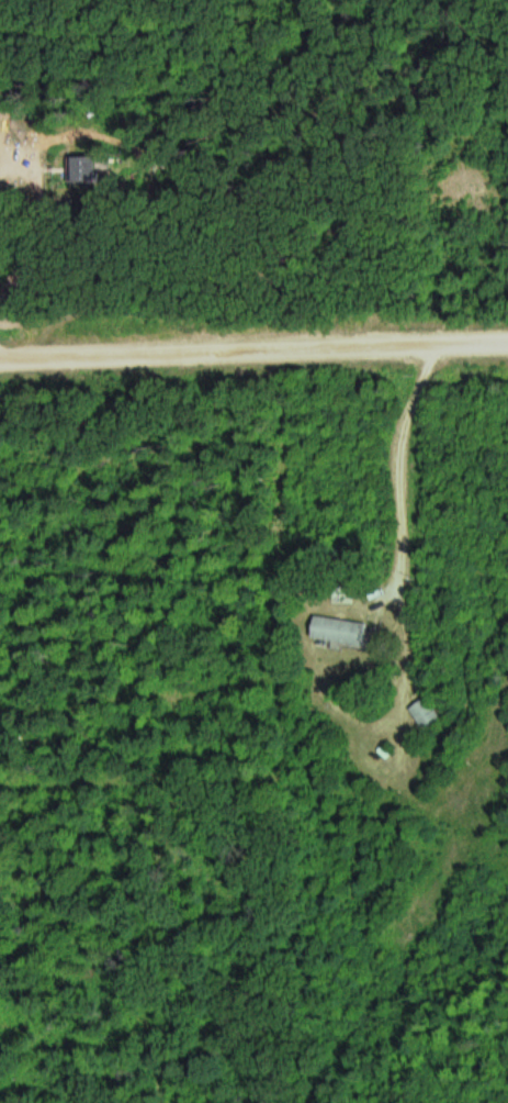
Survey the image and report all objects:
road: (253, 343)
building: (342, 631)
building: (427, 713)

